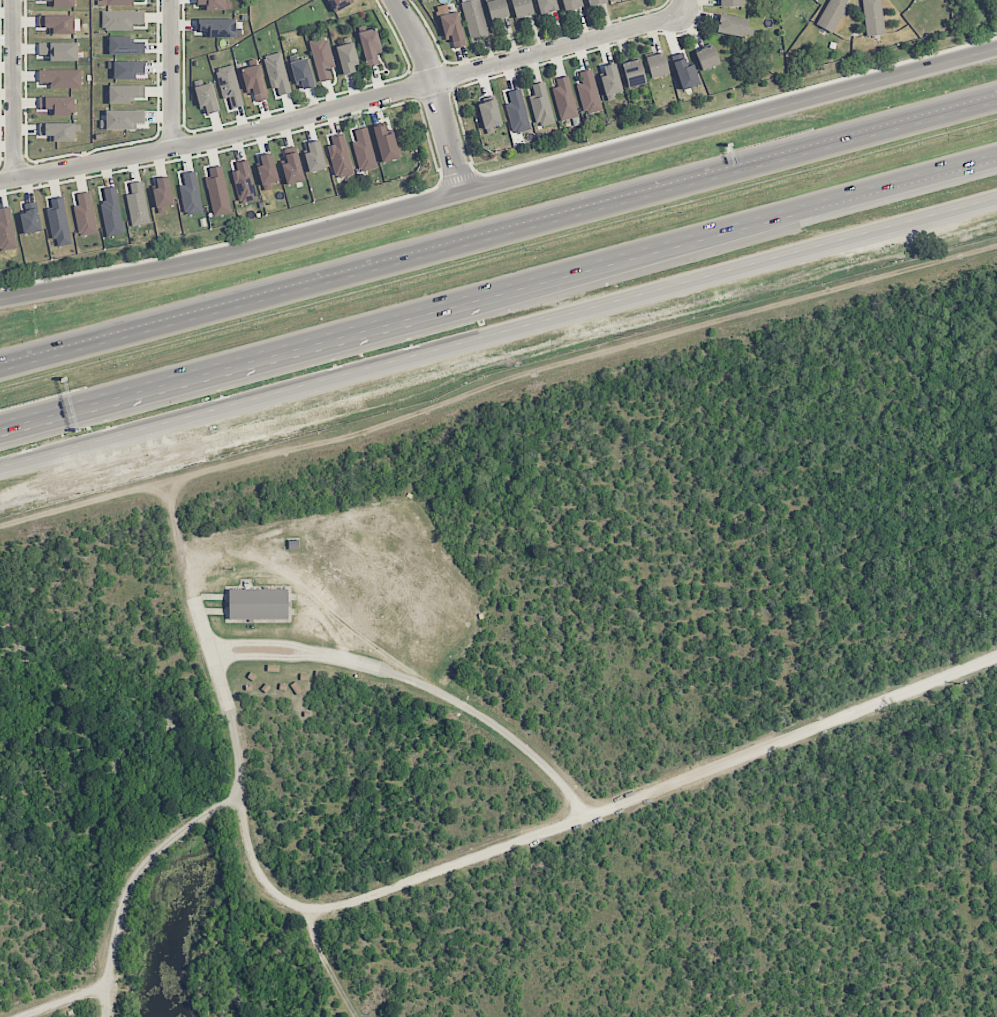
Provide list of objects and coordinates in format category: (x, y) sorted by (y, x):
building: (814, 0)
building: (117, 2)
building: (595, 2)
building: (61, 3)
building: (729, 3)
building: (213, 4)
building: (338, 4)
building: (571, 4)
building: (546, 6)
road: (684, 7)
building: (522, 8)
building: (497, 9)
building: (832, 14)
building: (873, 17)
building: (474, 18)
building: (121, 19)
building: (60, 23)
building: (450, 26)
building: (734, 26)
building: (218, 27)
building: (125, 46)
building: (370, 46)
building: (58, 51)
building: (322, 58)
building: (347, 58)
building: (707, 58)
building: (656, 65)
building: (127, 69)
building: (685, 71)
building: (277, 73)
building: (302, 73)
building: (633, 73)
road: (172, 74)
building: (61, 78)
building: (610, 80)
building: (254, 82)
building: (229, 85)
road: (13, 89)
building: (588, 92)
building: (125, 93)
road: (436, 94)
building: (207, 99)
building: (564, 99)
building: (58, 105)
road: (343, 105)
building: (541, 105)
building: (517, 112)
building: (489, 115)
building: (122, 119)
building: (59, 131)
building: (385, 143)
building: (363, 150)
building: (314, 157)
building: (339, 157)
building: (292, 166)
building: (267, 171)
building: (244, 183)
road: (500, 184)
building: (217, 192)
building: (162, 194)
building: (190, 194)
building: (137, 205)
building: (111, 213)
building: (84, 215)
building: (30, 218)
building: (58, 222)
building: (6, 230)
road: (498, 240)
road: (498, 287)
road: (498, 333)
road: (497, 388)
building: (258, 604)
road: (420, 685)
road: (241, 771)
road: (584, 818)
road: (337, 966)
road: (67, 1001)

